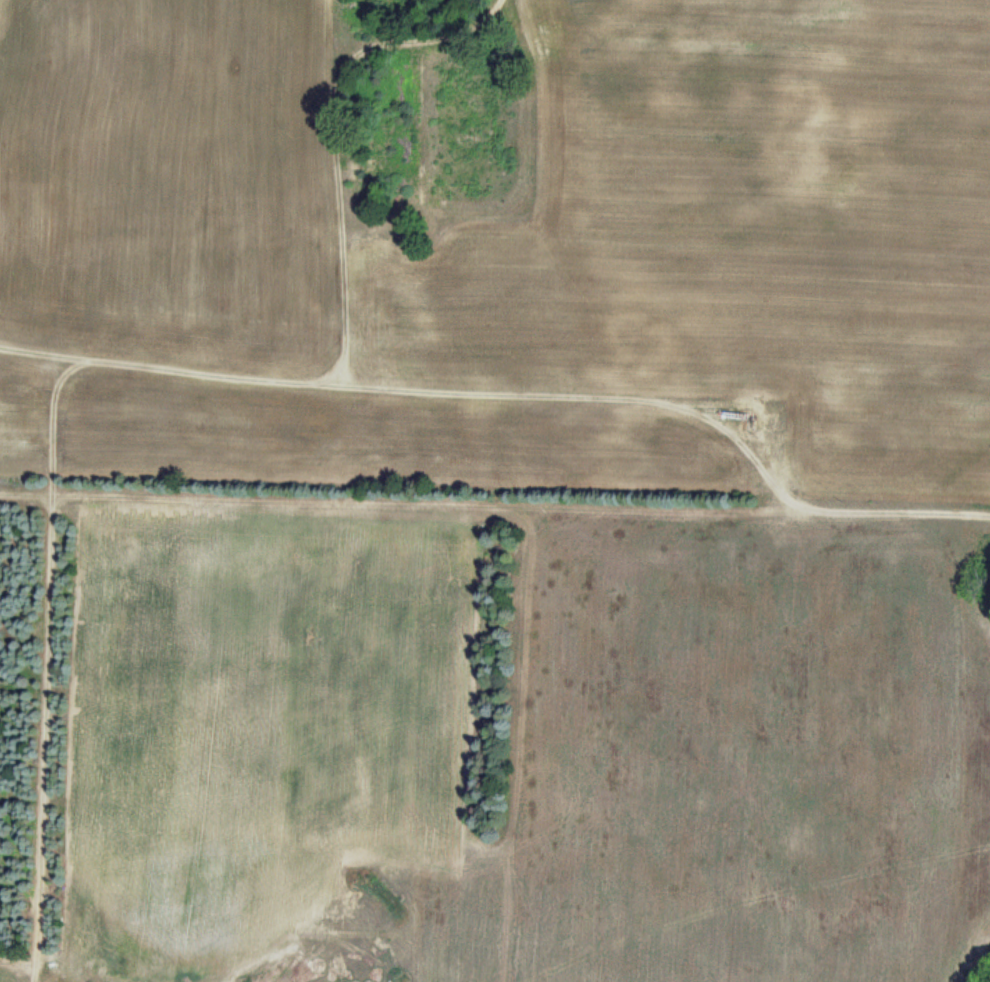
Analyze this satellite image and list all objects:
road: (543, 358)
road: (89, 663)
road: (345, 666)

